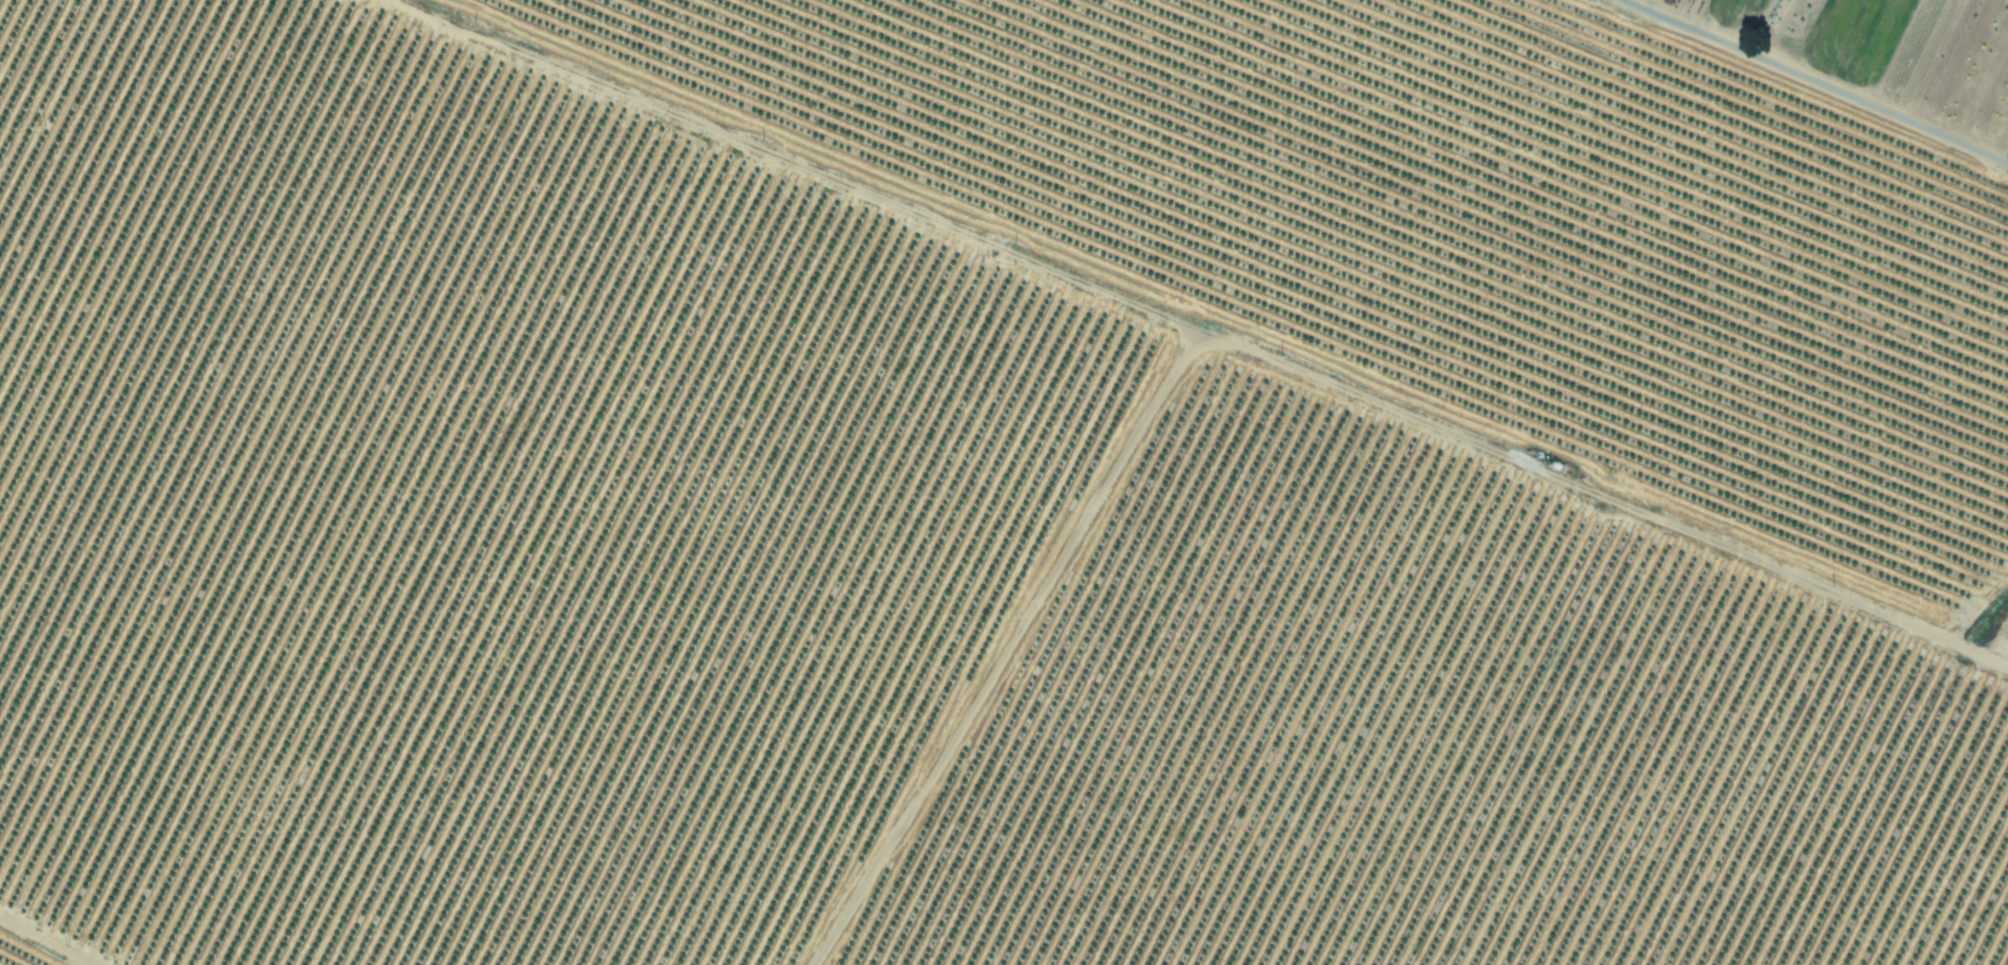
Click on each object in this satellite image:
road: (1815, 81)
crop: (1004, 482)

